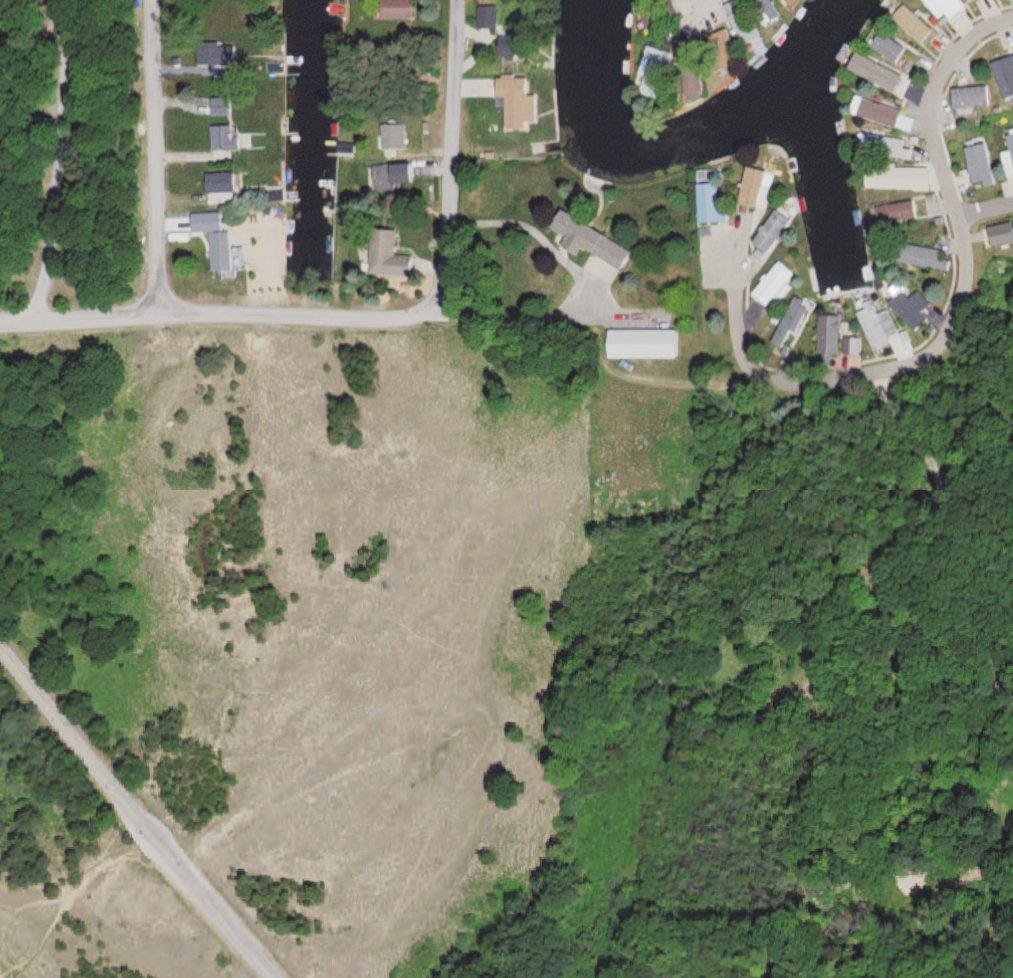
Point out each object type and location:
building: (963, 1)
building: (941, 7)
building: (400, 9)
building: (491, 17)
building: (910, 23)
building: (886, 47)
building: (519, 52)
building: (877, 74)
building: (523, 101)
building: (226, 107)
building: (881, 115)
building: (400, 137)
building: (233, 138)
building: (883, 146)
building: (1008, 152)
road: (448, 155)
road: (157, 158)
road: (54, 160)
building: (977, 162)
building: (396, 177)
building: (888, 178)
building: (227, 183)
building: (753, 188)
building: (711, 196)
road: (985, 210)
building: (893, 212)
building: (769, 231)
building: (999, 233)
building: (595, 238)
building: (223, 245)
building: (391, 252)
building: (921, 257)
building: (771, 283)
building: (909, 306)
road: (959, 315)
road: (299, 318)
road: (81, 319)
building: (794, 323)
building: (877, 324)
building: (830, 331)
building: (646, 344)
road: (138, 816)
park: (86, 874)

